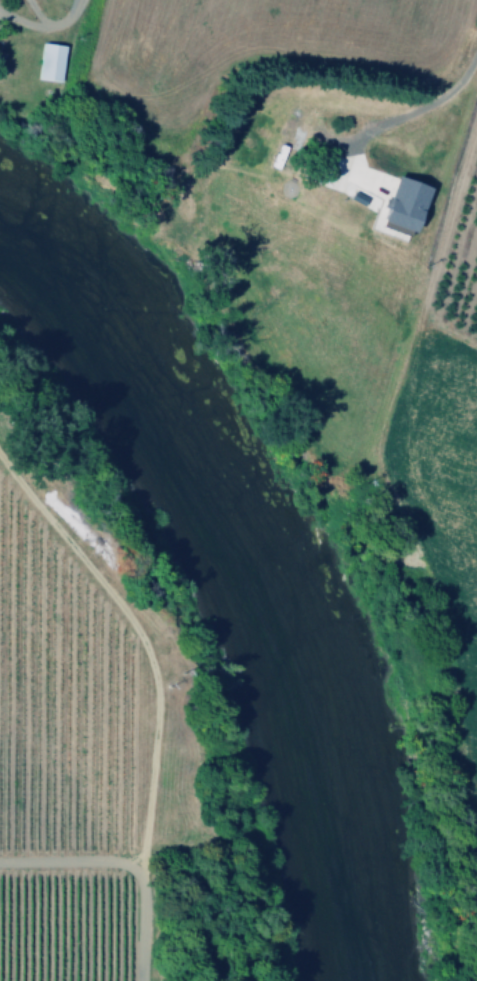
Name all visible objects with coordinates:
building: (48, 62)
building: (402, 202)
building: (388, 229)
river: (258, 570)
road: (145, 648)
road: (121, 866)

